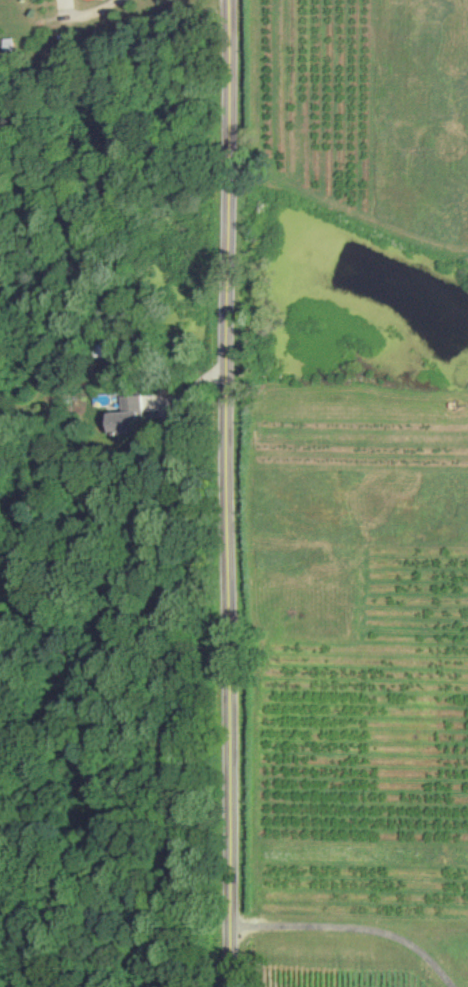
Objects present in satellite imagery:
road: (91, 11)
building: (130, 416)
road: (236, 493)
road: (355, 928)

